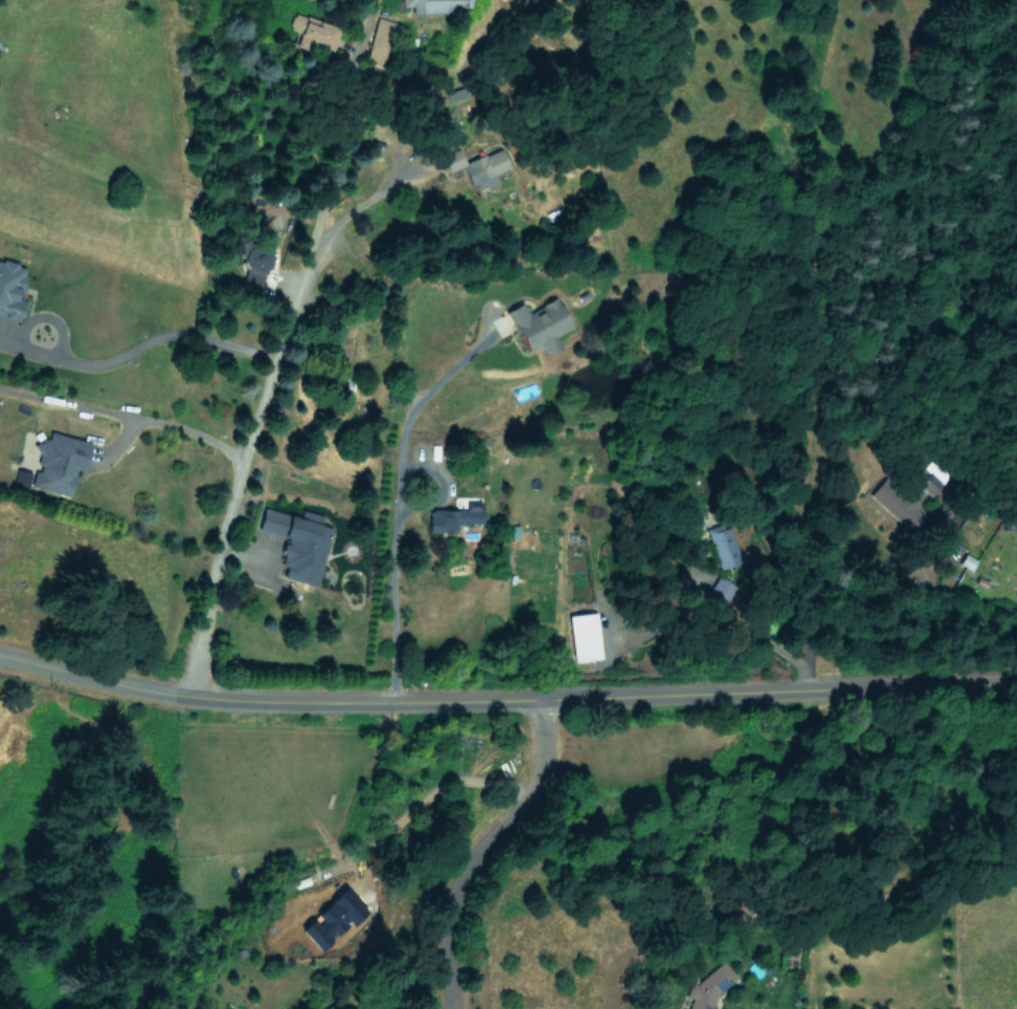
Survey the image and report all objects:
building: (434, 5)
building: (311, 32)
building: (379, 41)
building: (478, 166)
road: (365, 202)
building: (10, 288)
building: (538, 324)
road: (148, 345)
road: (276, 347)
road: (69, 403)
road: (420, 404)
road: (168, 422)
building: (59, 463)
building: (22, 477)
building: (905, 500)
building: (453, 517)
building: (299, 543)
building: (724, 545)
building: (967, 561)
building: (720, 589)
road: (391, 593)
road: (824, 603)
building: (584, 637)
road: (95, 678)
road: (604, 696)
road: (434, 793)
road: (478, 847)
building: (332, 917)
road: (412, 969)
building: (709, 986)
building: (328, 1008)

